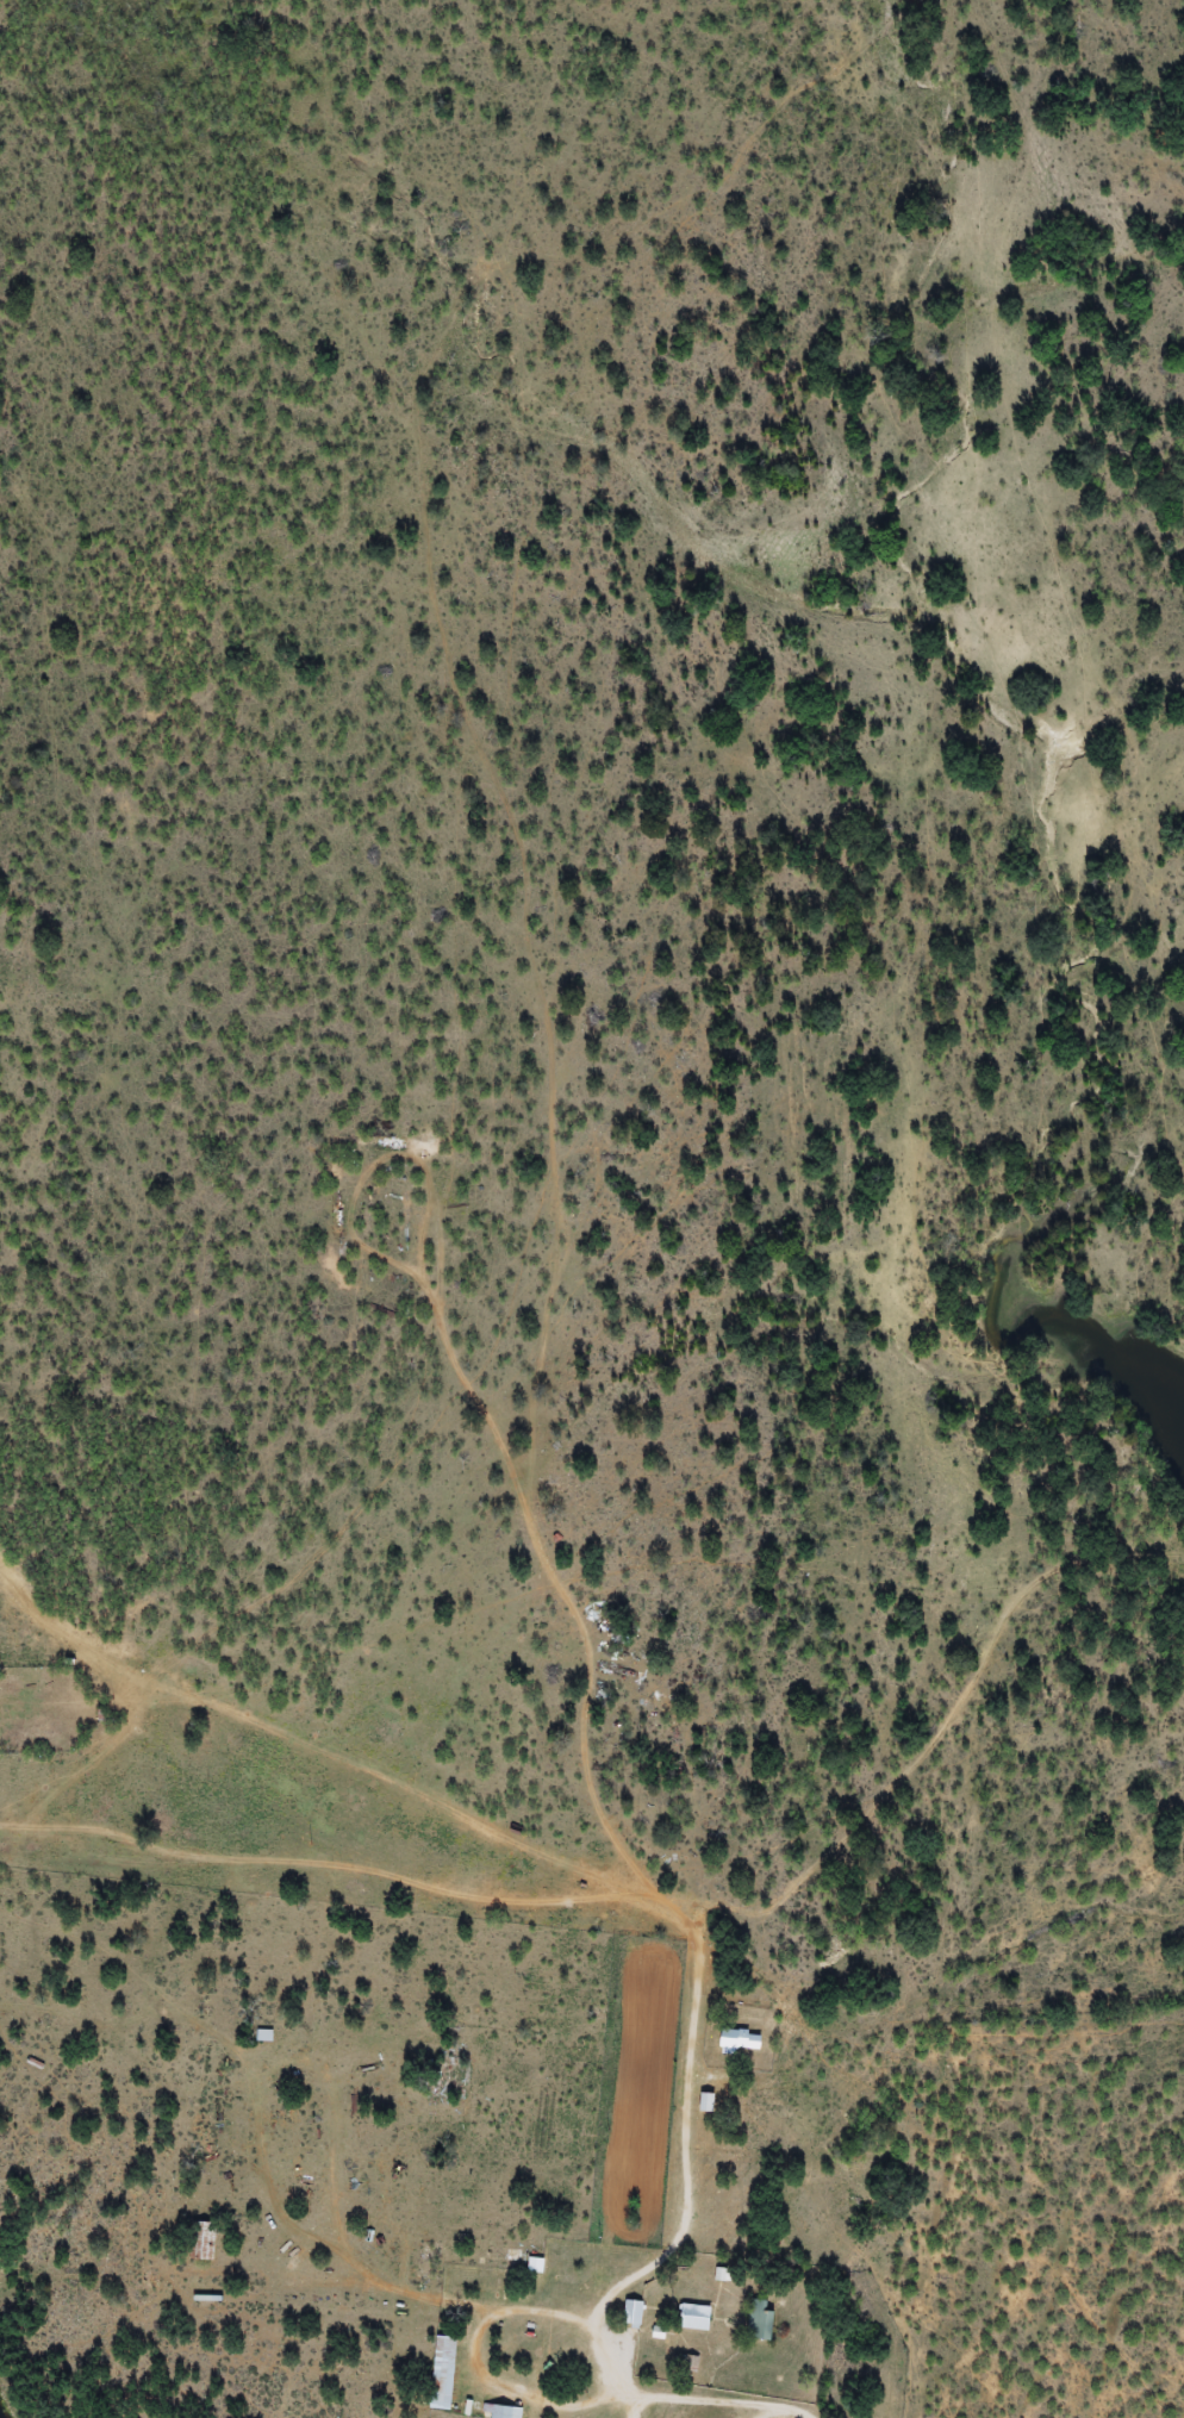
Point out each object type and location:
road: (588, 1930)
building: (264, 2037)
building: (737, 2042)
road: (924, 2044)
building: (447, 2076)
building: (202, 2241)
building: (535, 2266)
building: (632, 2312)
building: (693, 2317)
building: (759, 2324)
building: (443, 2373)
building: (505, 2411)

